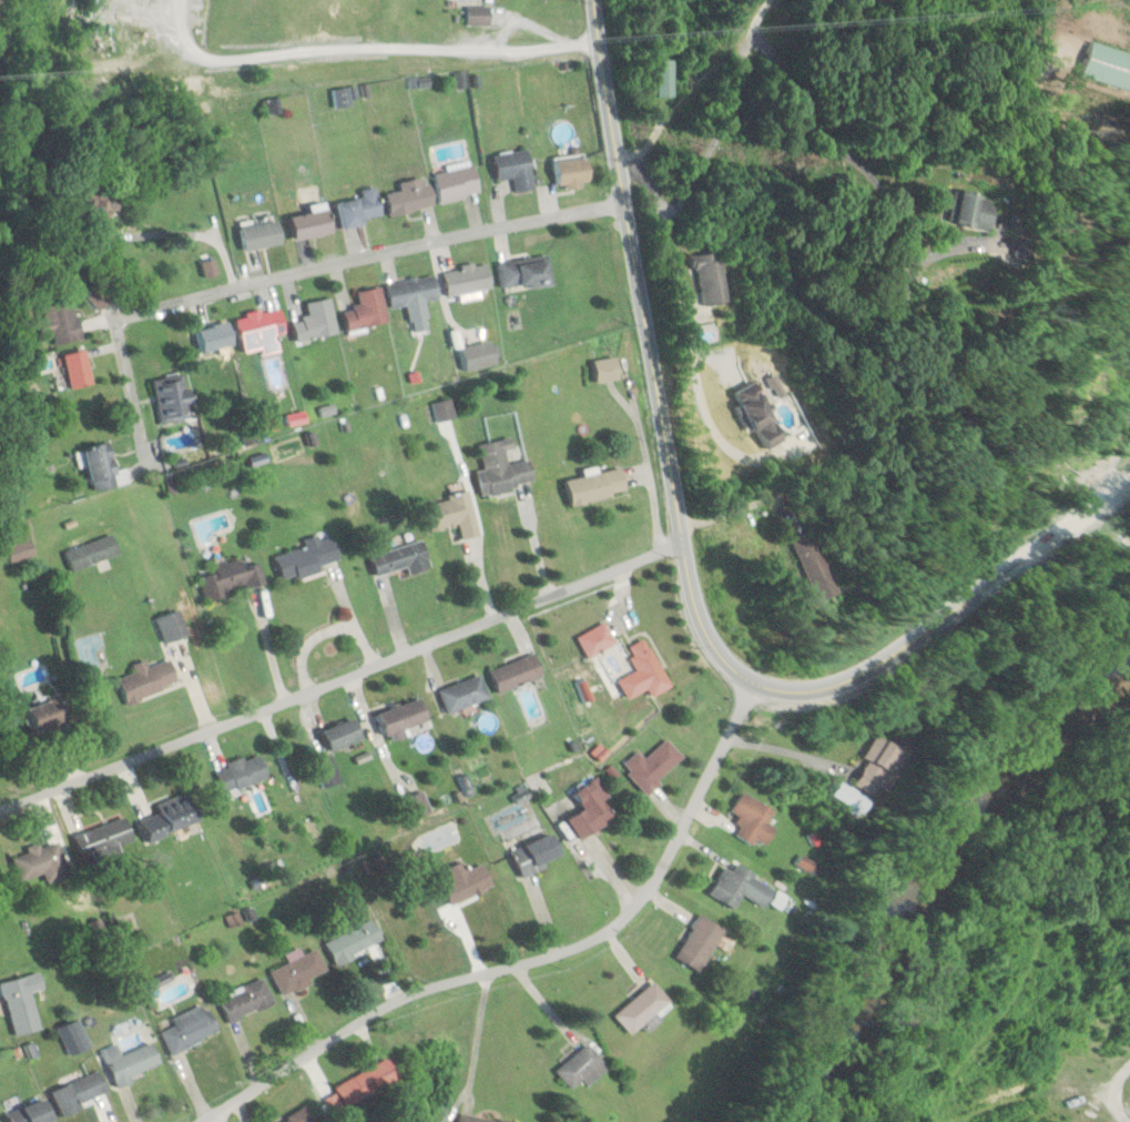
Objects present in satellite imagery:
building: (479, 14)
road: (368, 50)
building: (1128, 62)
building: (665, 77)
building: (515, 168)
building: (572, 171)
building: (457, 183)
building: (409, 195)
building: (990, 206)
building: (360, 208)
building: (312, 224)
building: (261, 234)
building: (525, 271)
road: (288, 274)
building: (467, 279)
building: (711, 279)
building: (411, 291)
building: (366, 310)
building: (315, 321)
building: (58, 322)
building: (261, 328)
building: (215, 336)
building: (478, 356)
building: (77, 368)
building: (607, 370)
building: (173, 397)
building: (762, 414)
building: (103, 467)
building: (503, 469)
building: (597, 487)
road: (1126, 499)
building: (451, 515)
building: (14, 539)
building: (91, 553)
building: (305, 557)
building: (399, 558)
building: (823, 565)
road: (688, 570)
building: (231, 579)
building: (171, 627)
building: (595, 640)
building: (641, 673)
building: (515, 674)
road: (342, 679)
building: (146, 680)
building: (462, 695)
building: (43, 717)
building: (403, 718)
road: (988, 730)
building: (343, 735)
building: (884, 756)
building: (652, 766)
building: (242, 774)
building: (417, 806)
building: (591, 810)
building: (175, 818)
building: (754, 820)
building: (105, 843)
building: (537, 853)
building: (40, 862)
river: (937, 872)
building: (462, 882)
building: (742, 887)
building: (354, 940)
building: (698, 942)
road: (530, 960)
building: (297, 970)
building: (244, 1000)
building: (22, 1002)
building: (640, 1008)
building: (189, 1028)
building: (133, 1062)
building: (579, 1068)
building: (80, 1092)
road: (1113, 1110)
building: (33, 1113)
building: (301, 1118)
building: (490, 1120)

